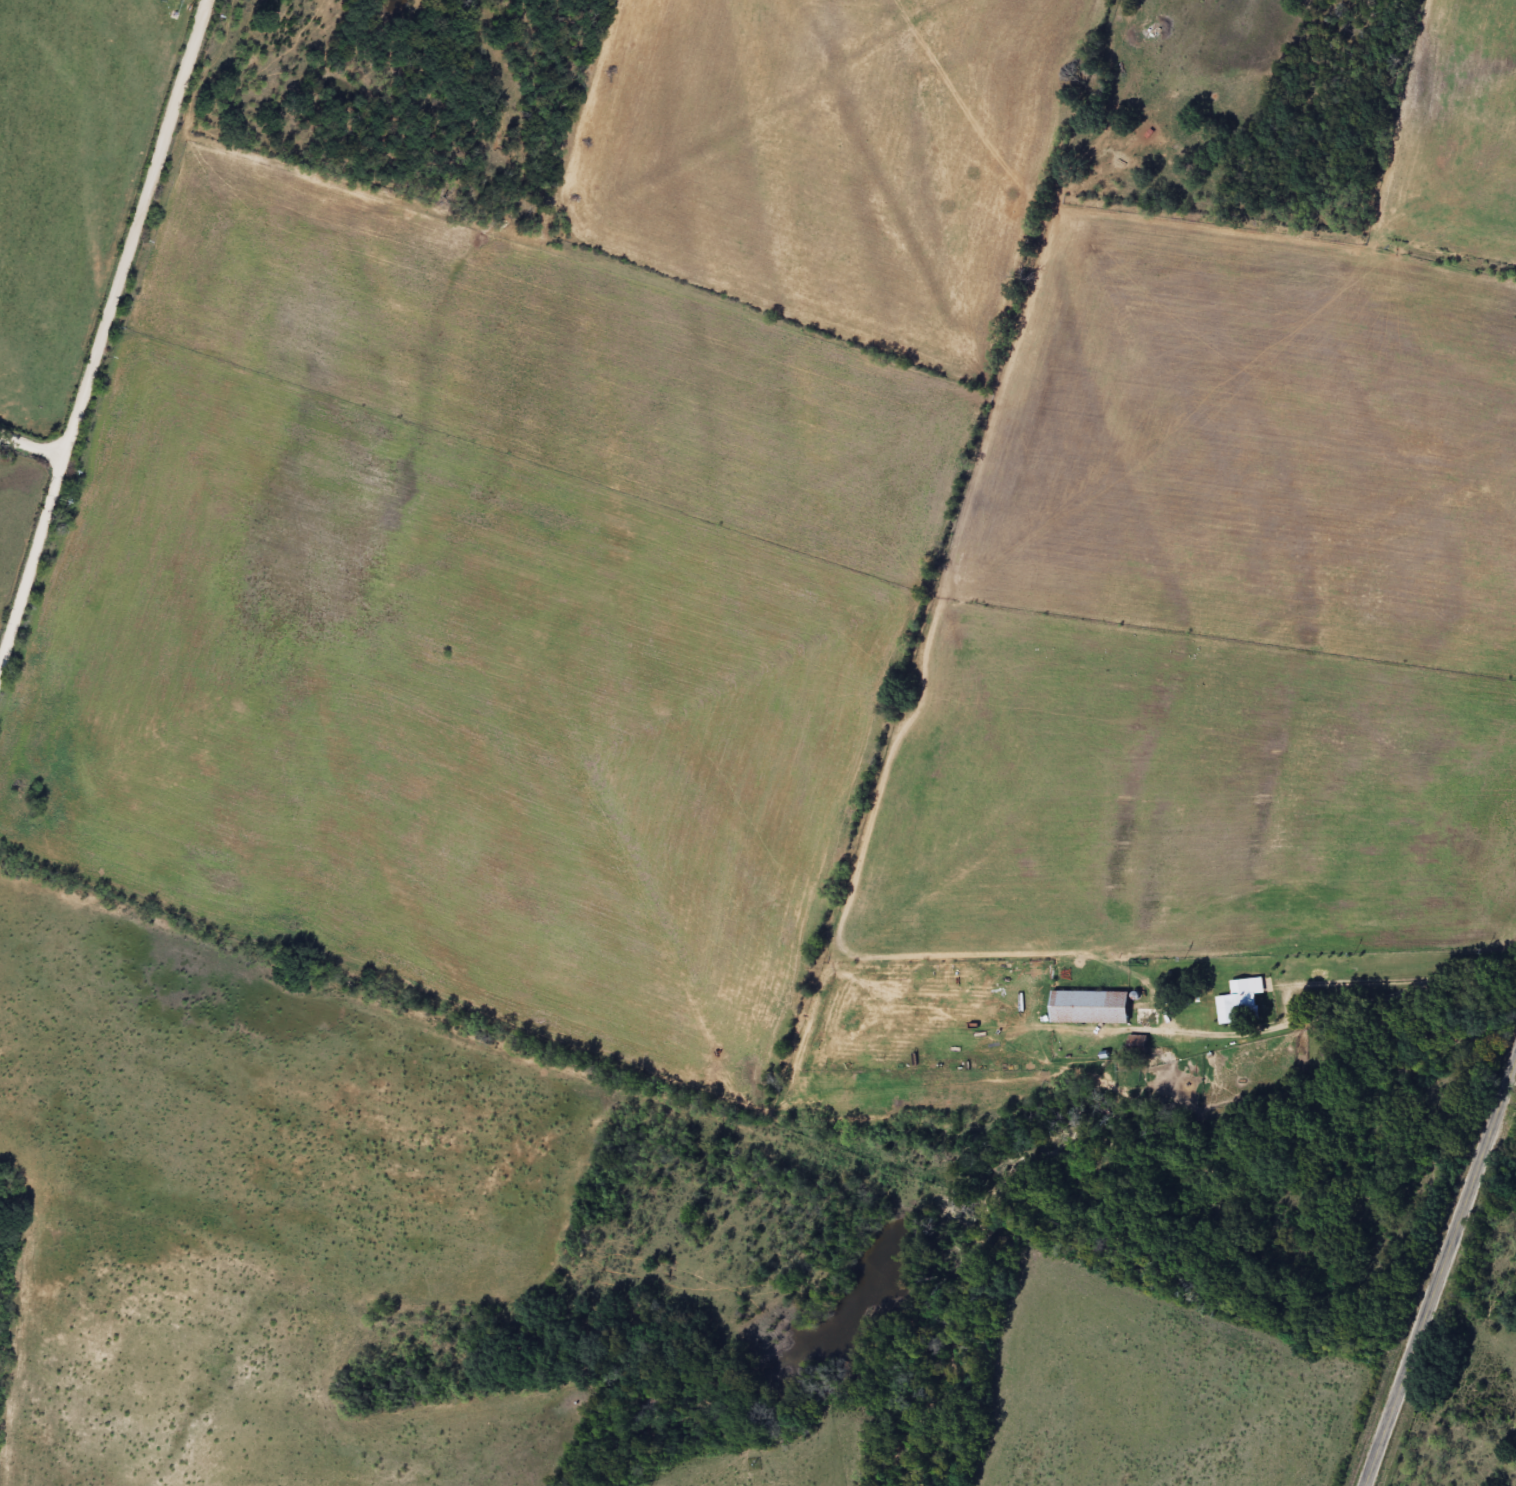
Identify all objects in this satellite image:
road: (104, 317)
road: (26, 401)
building: (1204, 997)
building: (1241, 1001)
building: (1091, 1006)
building: (1148, 1016)
building: (1139, 1043)
road: (1440, 1271)

